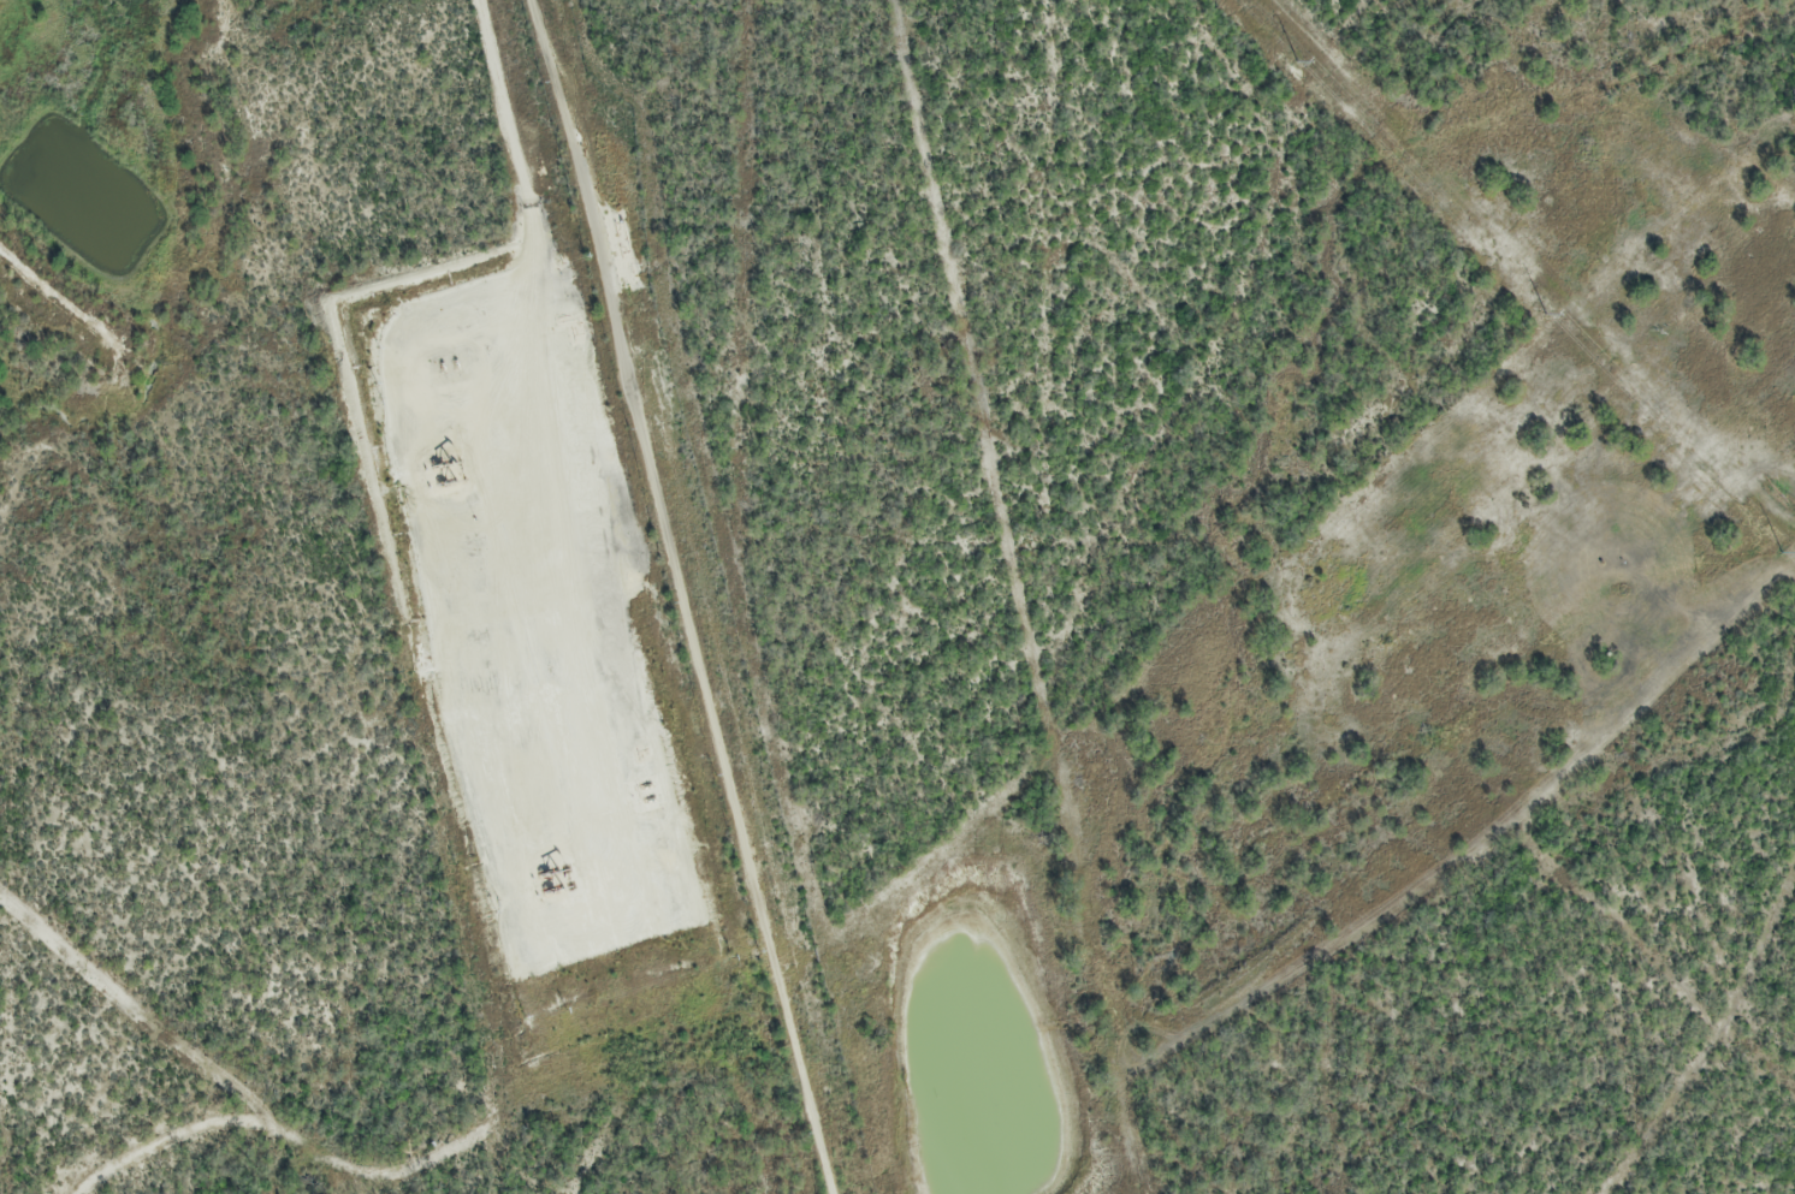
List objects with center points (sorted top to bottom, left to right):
power tower: (1297, 61)
power tower: (1547, 311)
power tower: (1781, 553)

